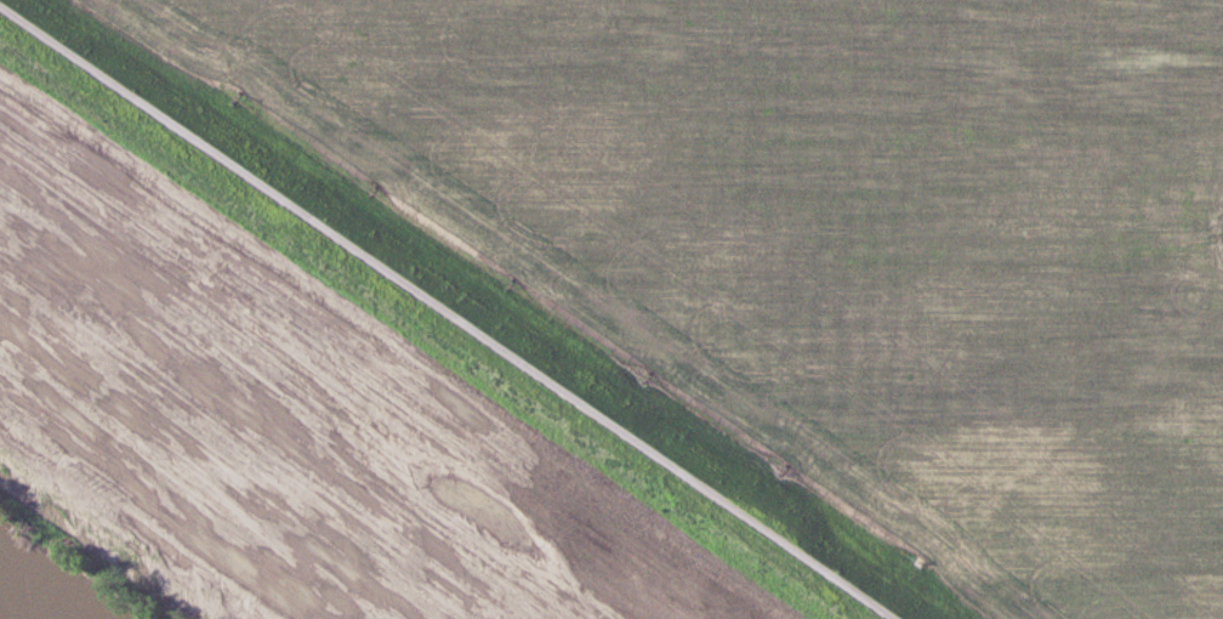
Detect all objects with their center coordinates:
road: (444, 314)

